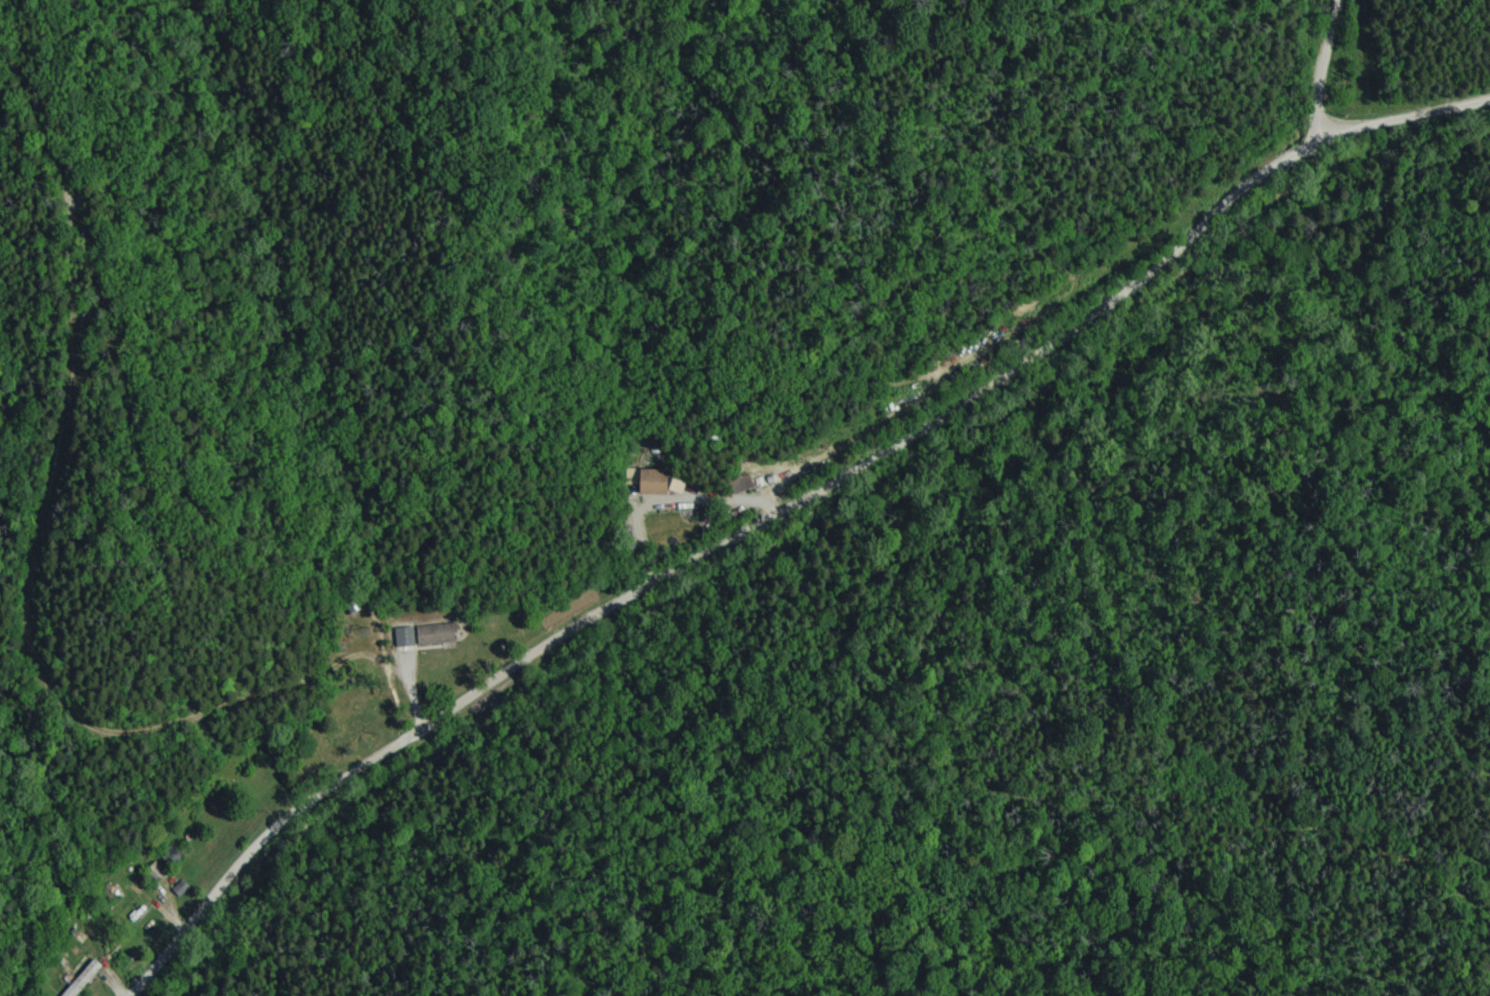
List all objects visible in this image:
road: (1331, 76)
road: (824, 542)
building: (431, 633)
building: (404, 637)
building: (71, 990)

